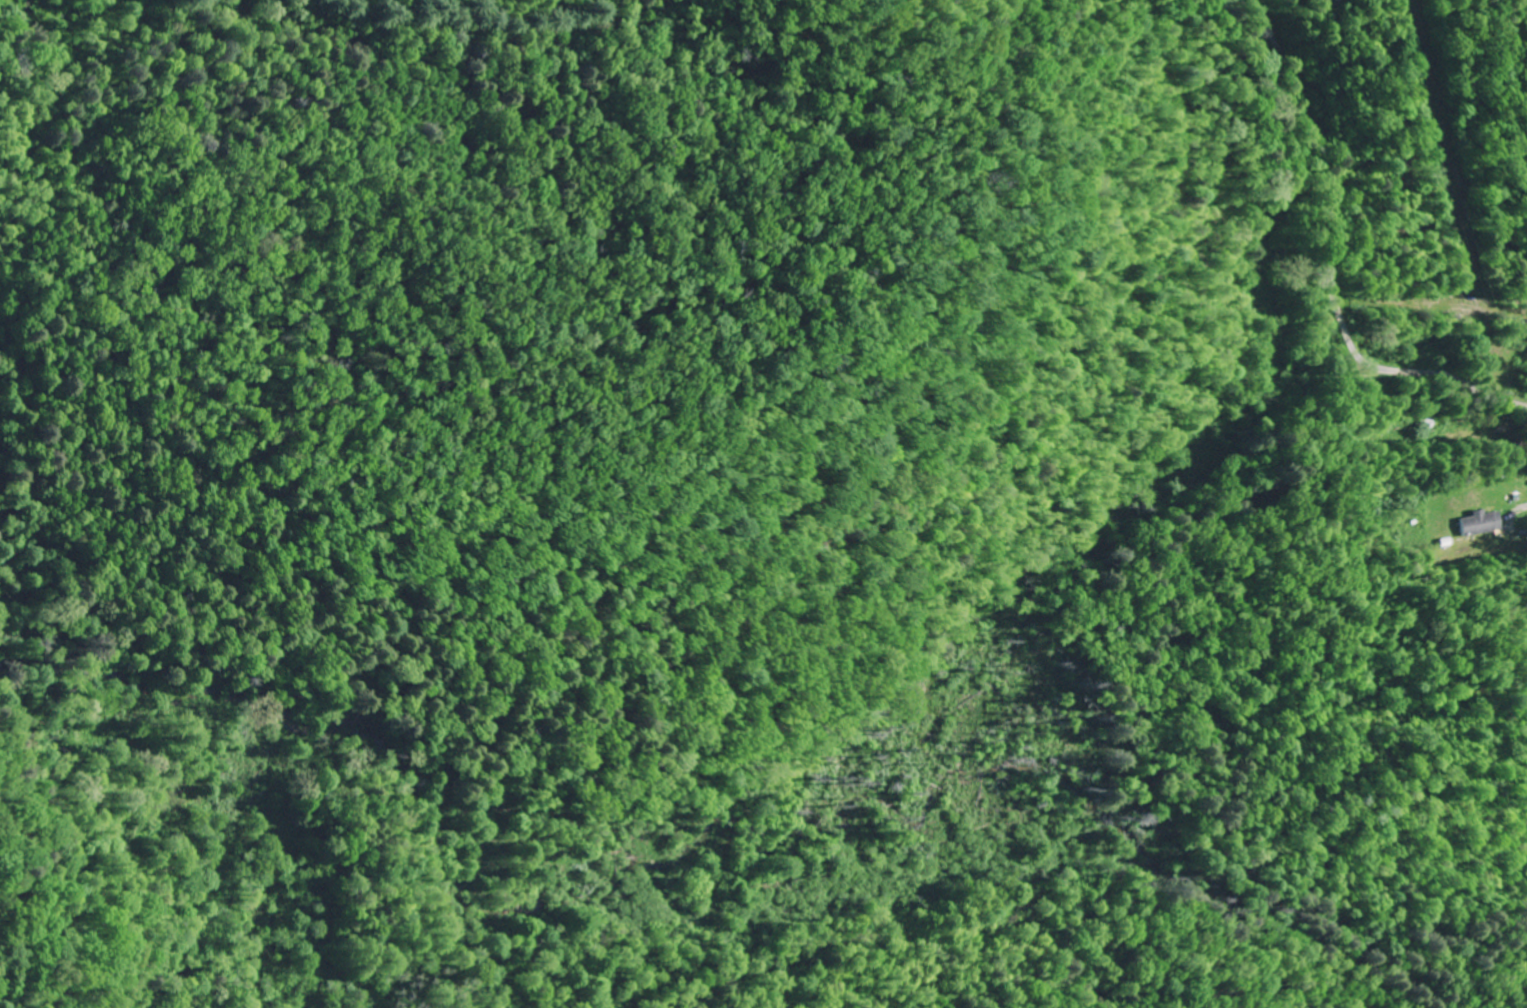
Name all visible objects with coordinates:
building: (1343, 0)
road: (1324, 263)
building: (1481, 522)

